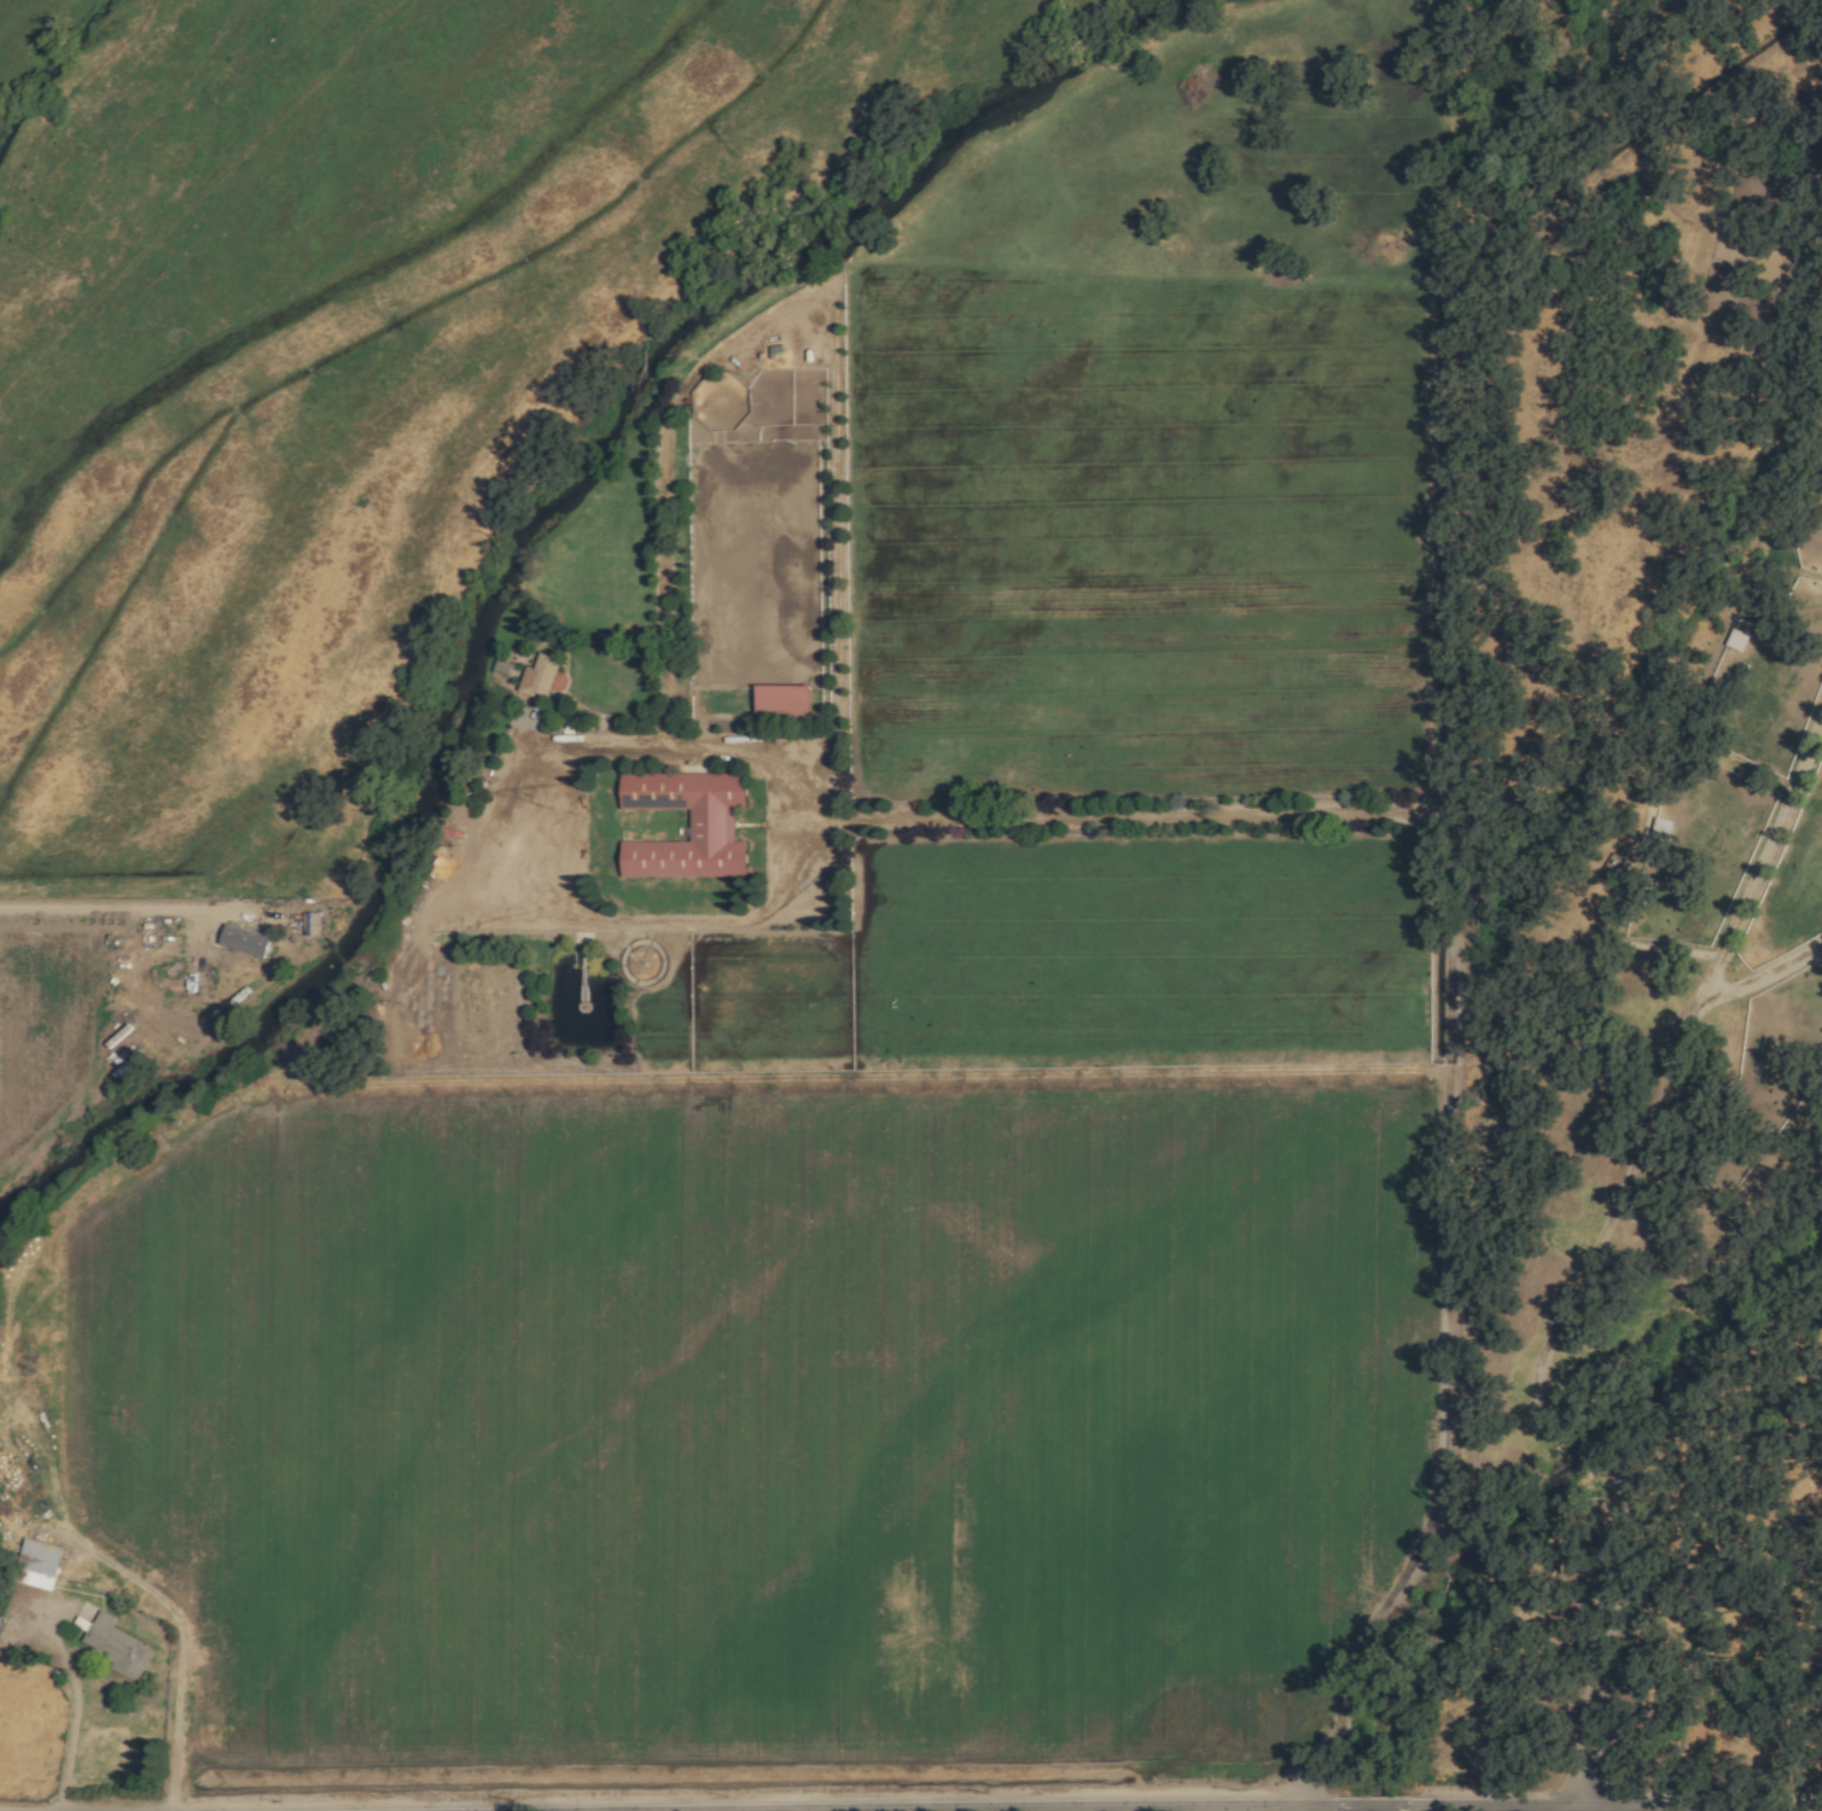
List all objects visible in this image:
crop: (24, 30)
crop: (337, 363)
crop: (1096, 607)
building: (536, 676)
building: (778, 701)
building: (709, 825)
road: (1450, 880)
road: (133, 903)
building: (240, 941)
road: (1760, 976)
road: (1593, 1251)
road: (93, 1556)
building: (35, 1565)

